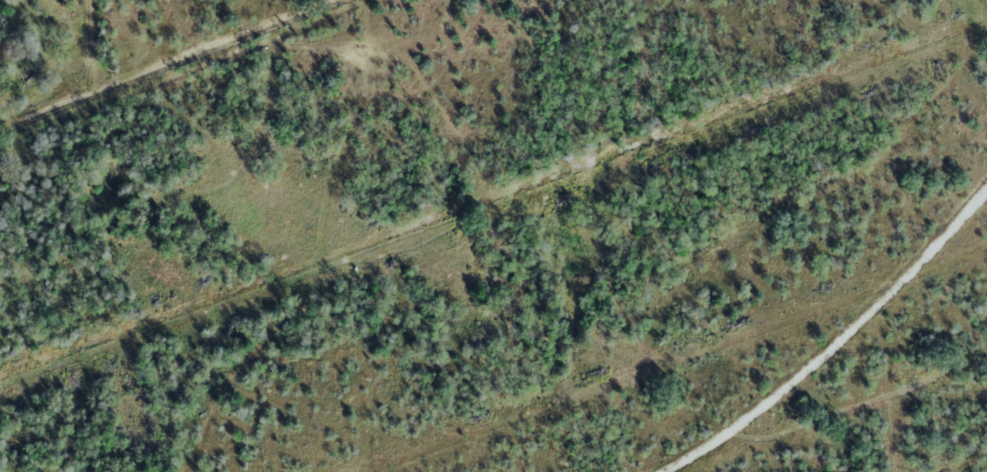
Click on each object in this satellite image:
road: (836, 342)

